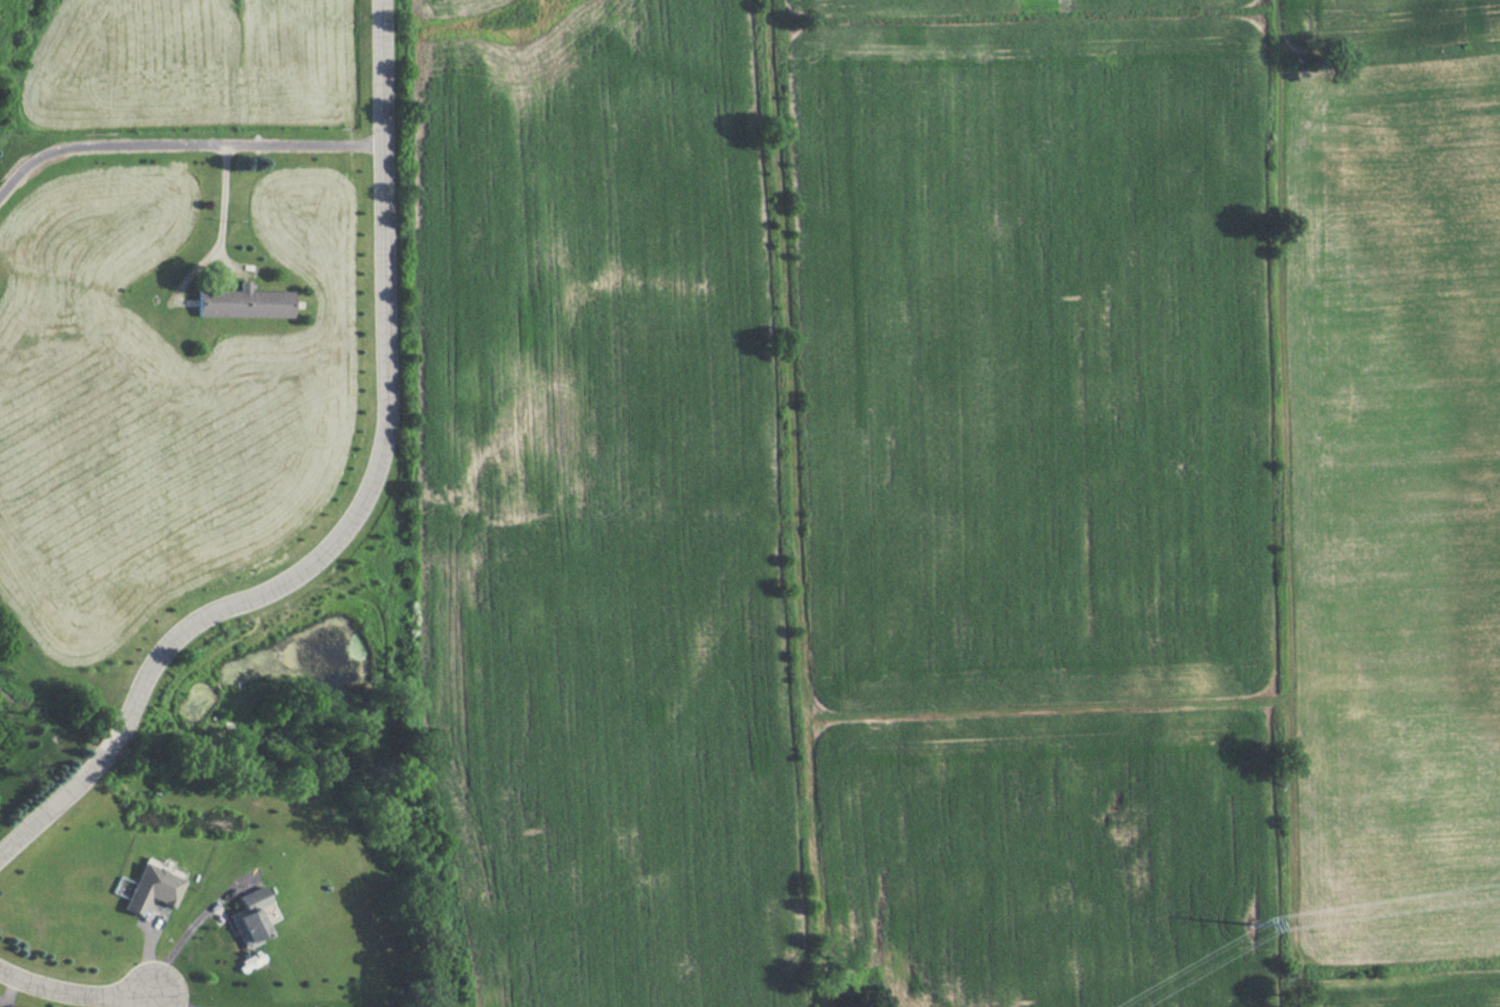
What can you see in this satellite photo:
road: (303, 144)
road: (103, 145)
road: (223, 197)
building: (245, 302)
road: (362, 511)
building: (152, 887)
building: (250, 916)
power tower: (1250, 920)
road: (190, 934)
road: (76, 996)
road: (156, 1001)
road: (170, 1001)

